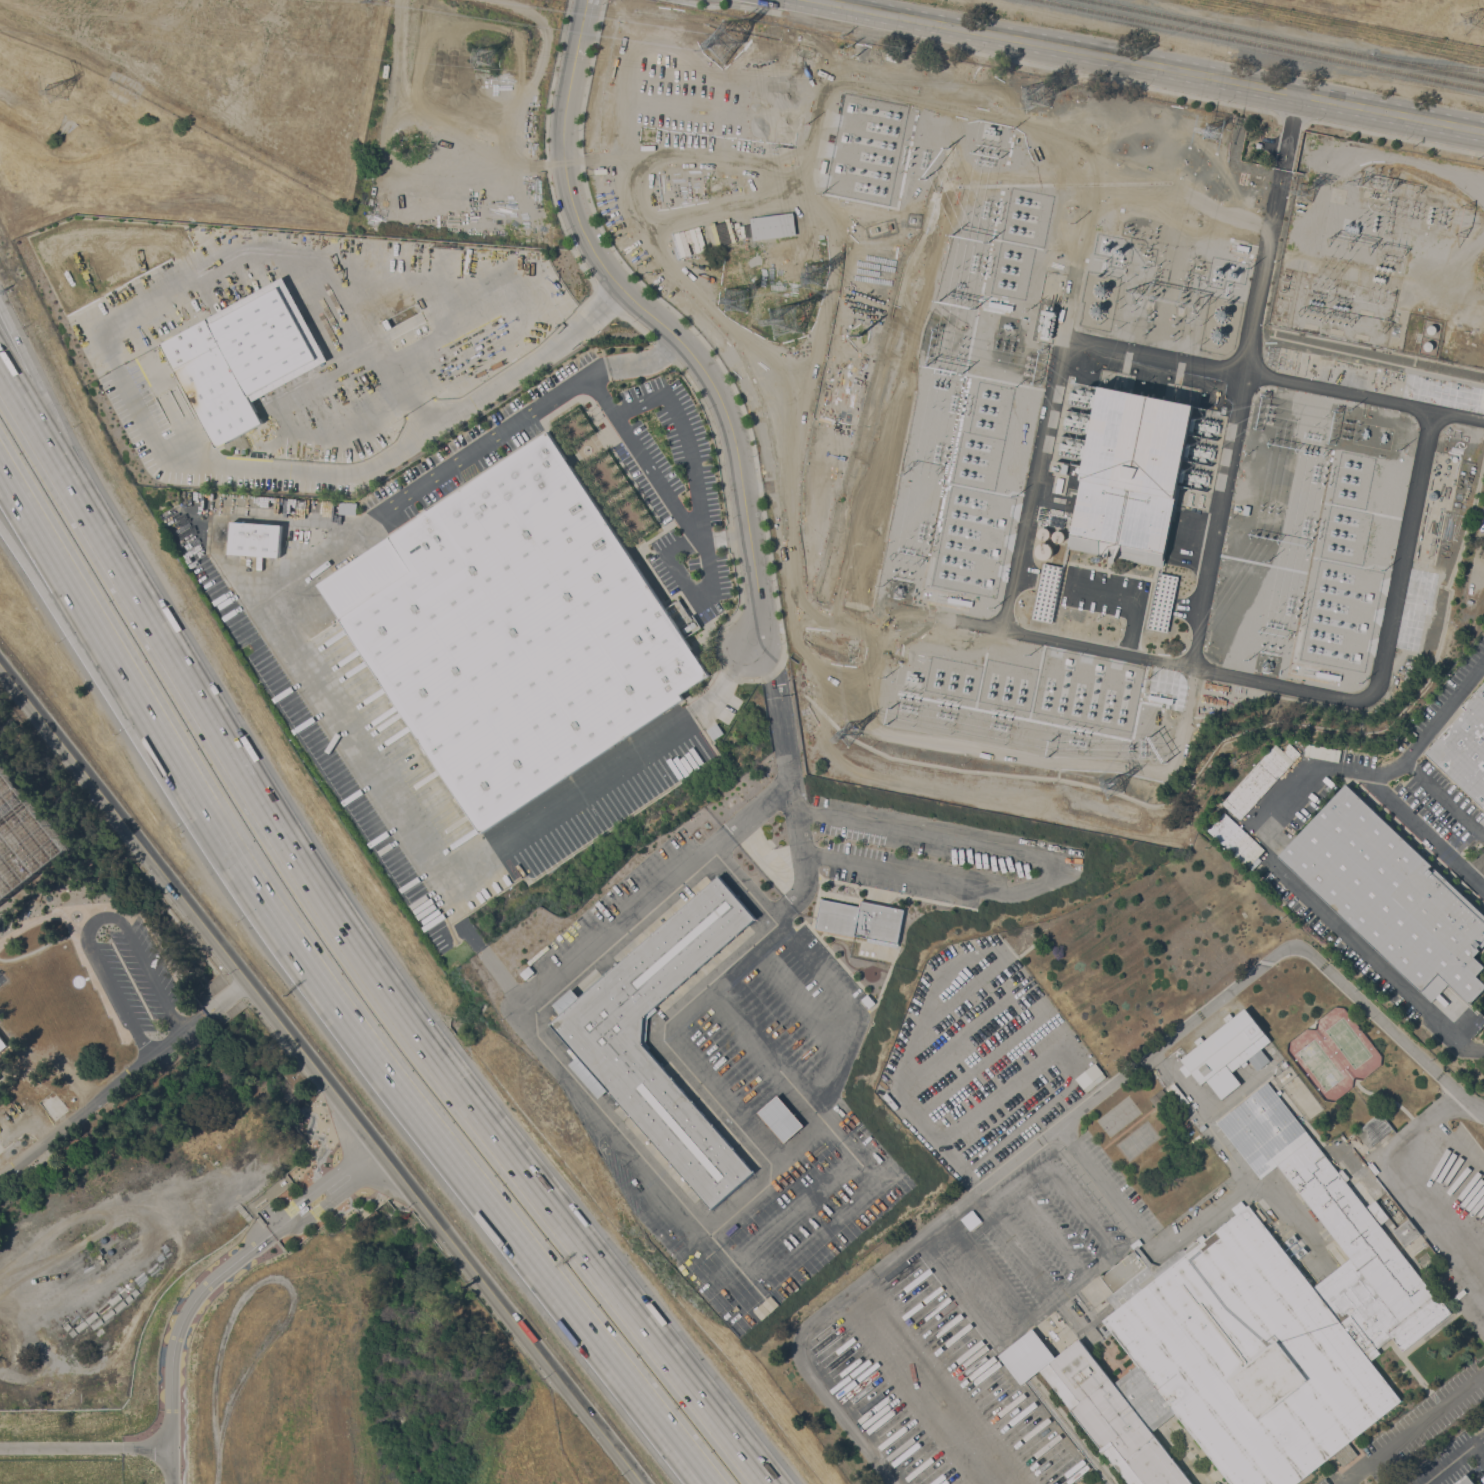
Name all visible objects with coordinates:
power tower: (1479, 26)
railway: (1235, 29)
power tower: (724, 44)
railway: (1263, 44)
power tower: (487, 58)
railway: (1433, 64)
road: (1142, 67)
railway: (1433, 69)
power tower: (60, 96)
power tower: (1037, 98)
power tower: (650, 138)
power tower: (1146, 152)
power tower: (1208, 176)
power tower: (1312, 195)
building: (768, 226)
power tower: (819, 274)
building: (884, 276)
road: (200, 282)
building: (1101, 289)
power tower: (735, 298)
building: (1097, 310)
road: (657, 322)
building: (1047, 323)
power tower: (785, 324)
building: (1220, 324)
building: (1431, 329)
building: (1428, 345)
road: (13, 355)
road: (631, 359)
building: (238, 361)
road: (1243, 382)
road: (13, 386)
road: (1364, 395)
road: (1052, 397)
building: (1083, 397)
power tower: (1118, 412)
building: (1079, 423)
building: (1204, 426)
road: (684, 436)
power substation: (1147, 446)
building: (1074, 448)
building: (1199, 452)
building: (1063, 468)
building: (1080, 469)
building: (1131, 476)
building: (1194, 477)
building: (1059, 485)
building: (1190, 498)
building: (1058, 499)
building: (1201, 500)
building: (347, 509)
building: (1246, 510)
building: (1056, 511)
road: (244, 516)
building: (1483, 520)
building: (1044, 533)
building: (1058, 536)
building: (254, 538)
building: (1044, 550)
road: (50, 551)
road: (50, 577)
building: (1047, 592)
road: (258, 593)
building: (1162, 601)
building: (689, 627)
building: (514, 631)
road: (1050, 635)
road: (1383, 641)
building: (715, 731)
power tower: (847, 735)
building: (1464, 748)
building: (1322, 752)
road: (1379, 771)
building: (1260, 779)
power tower: (1117, 788)
road: (1444, 797)
building: (1482, 821)
road: (1423, 831)
building: (1234, 837)
road: (1040, 866)
road: (746, 886)
building: (1391, 895)
road: (46, 913)
road: (95, 919)
building: (861, 920)
road: (1357, 945)
power substation: (81, 962)
road: (369, 965)
road: (797, 995)
building: (602, 1032)
building: (3, 1043)
road: (841, 1044)
road: (766, 1052)
building: (1227, 1052)
road: (319, 1071)
road: (388, 1071)
building: (1285, 1077)
road: (124, 1079)
building: (1177, 1095)
building: (1161, 1100)
road: (1432, 1114)
road: (1071, 1115)
building: (781, 1118)
building: (1374, 1130)
building: (1353, 1162)
road: (1453, 1191)
road: (1402, 1195)
building: (304, 1209)
road: (728, 1217)
building: (971, 1219)
road: (1205, 1219)
road: (277, 1229)
building: (1405, 1231)
road: (1465, 1275)
building: (1247, 1334)
road: (178, 1336)
road: (1414, 1429)
road: (84, 1448)
road: (1455, 1462)
building: (1464, 1480)

